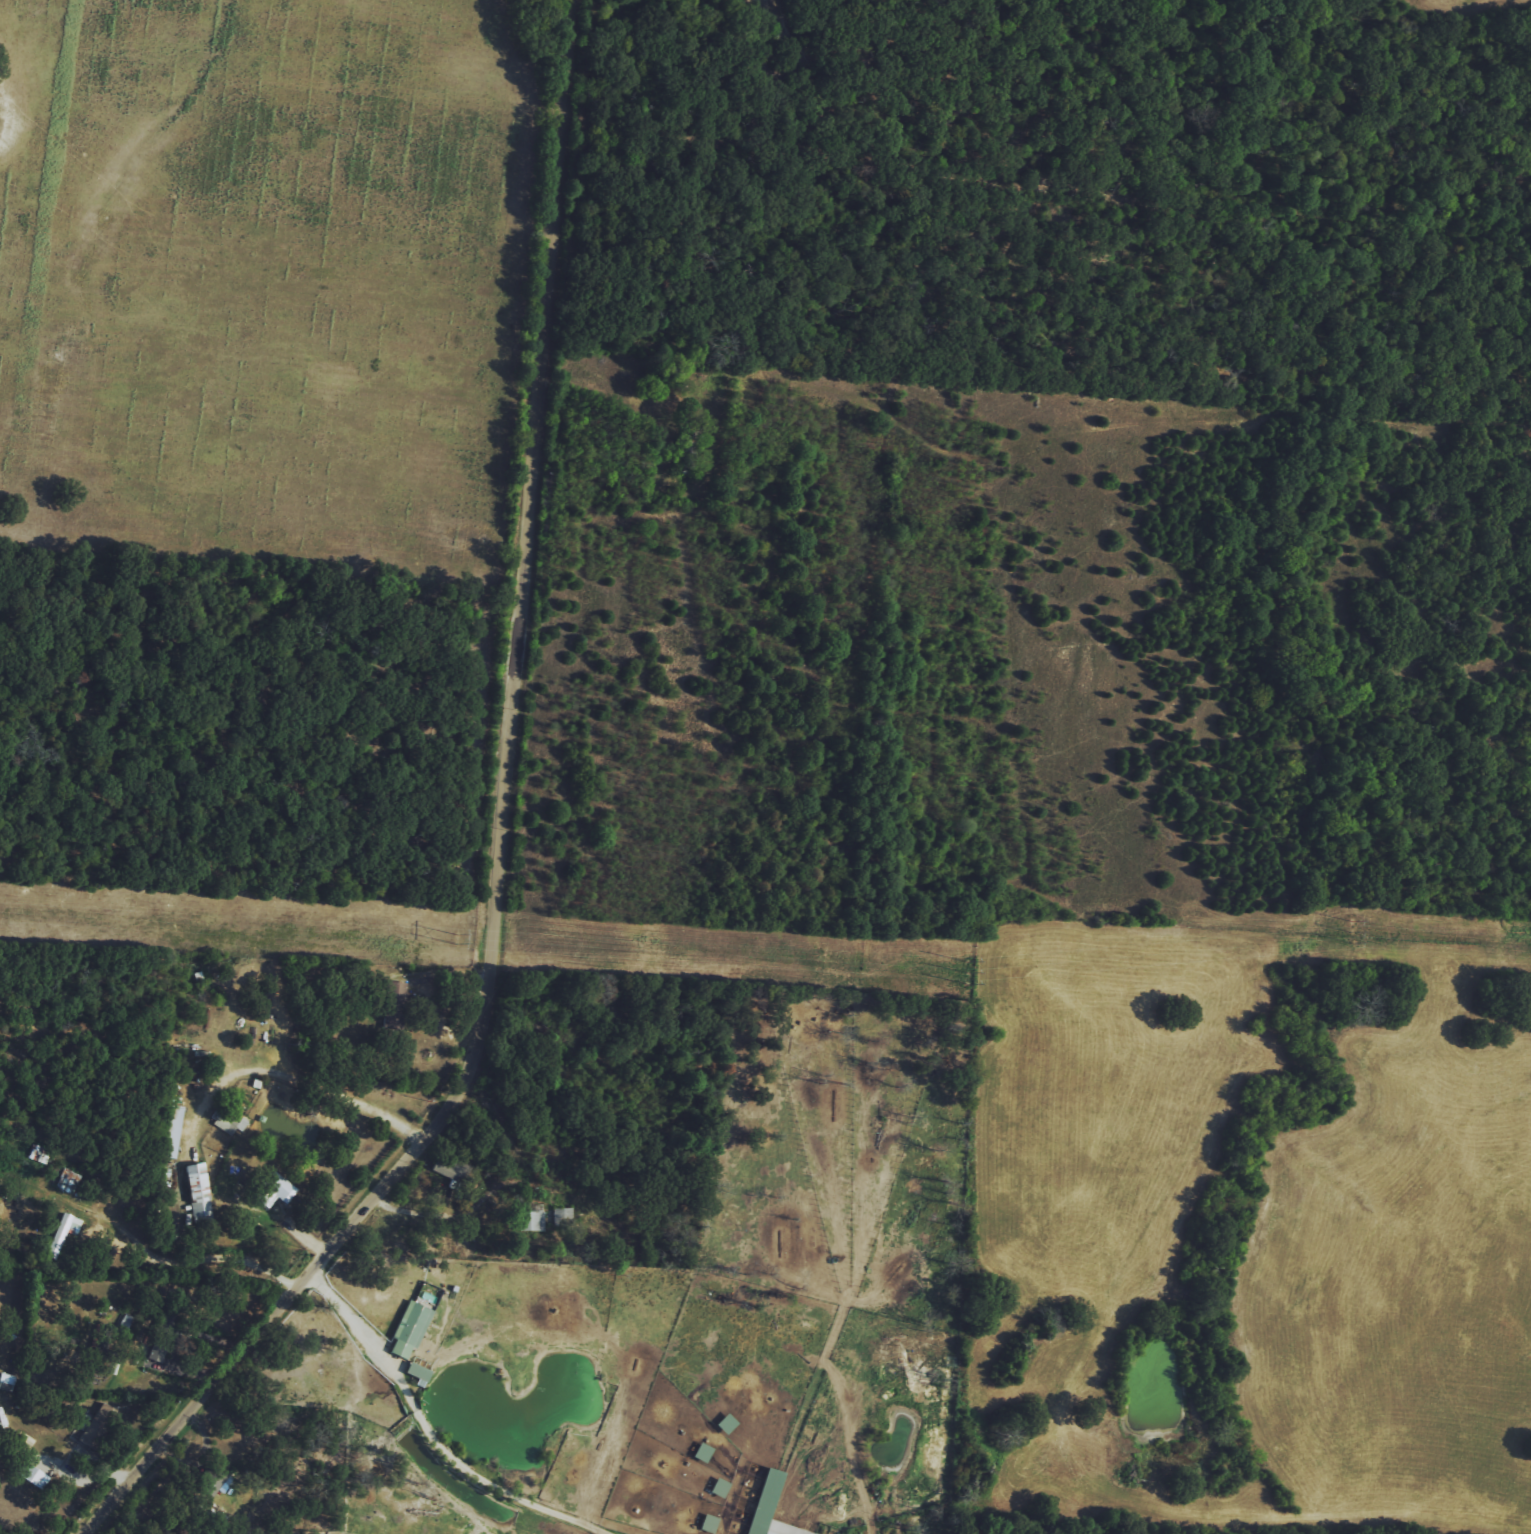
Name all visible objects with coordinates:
road: (494, 834)
building: (392, 1002)
road: (274, 1073)
building: (225, 1123)
building: (171, 1131)
building: (452, 1171)
building: (65, 1180)
building: (272, 1189)
building: (196, 1192)
building: (529, 1220)
building: (61, 1233)
road: (172, 1261)
building: (408, 1329)
building: (104, 1345)
building: (157, 1345)
building: (416, 1371)
building: (98, 1426)
road: (428, 1428)
building: (32, 1476)
building: (210, 1481)
building: (718, 1487)
building: (767, 1507)
building: (707, 1523)

